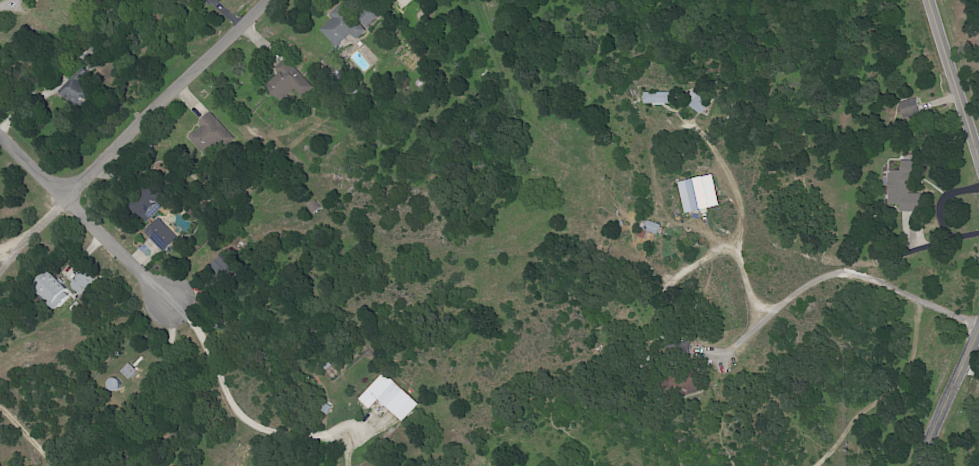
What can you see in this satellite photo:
building: (188, 1)
road: (4, 3)
building: (340, 27)
road: (952, 81)
building: (287, 82)
building: (73, 93)
road: (41, 95)
building: (656, 98)
building: (695, 102)
building: (908, 109)
road: (158, 110)
building: (209, 135)
building: (901, 187)
building: (697, 194)
building: (148, 207)
road: (938, 211)
road: (738, 212)
road: (96, 224)
building: (159, 235)
road: (24, 243)
building: (224, 266)
road: (840, 272)
building: (83, 284)
building: (52, 292)
building: (683, 385)
building: (388, 397)
road: (953, 403)
road: (244, 423)
road: (28, 435)

